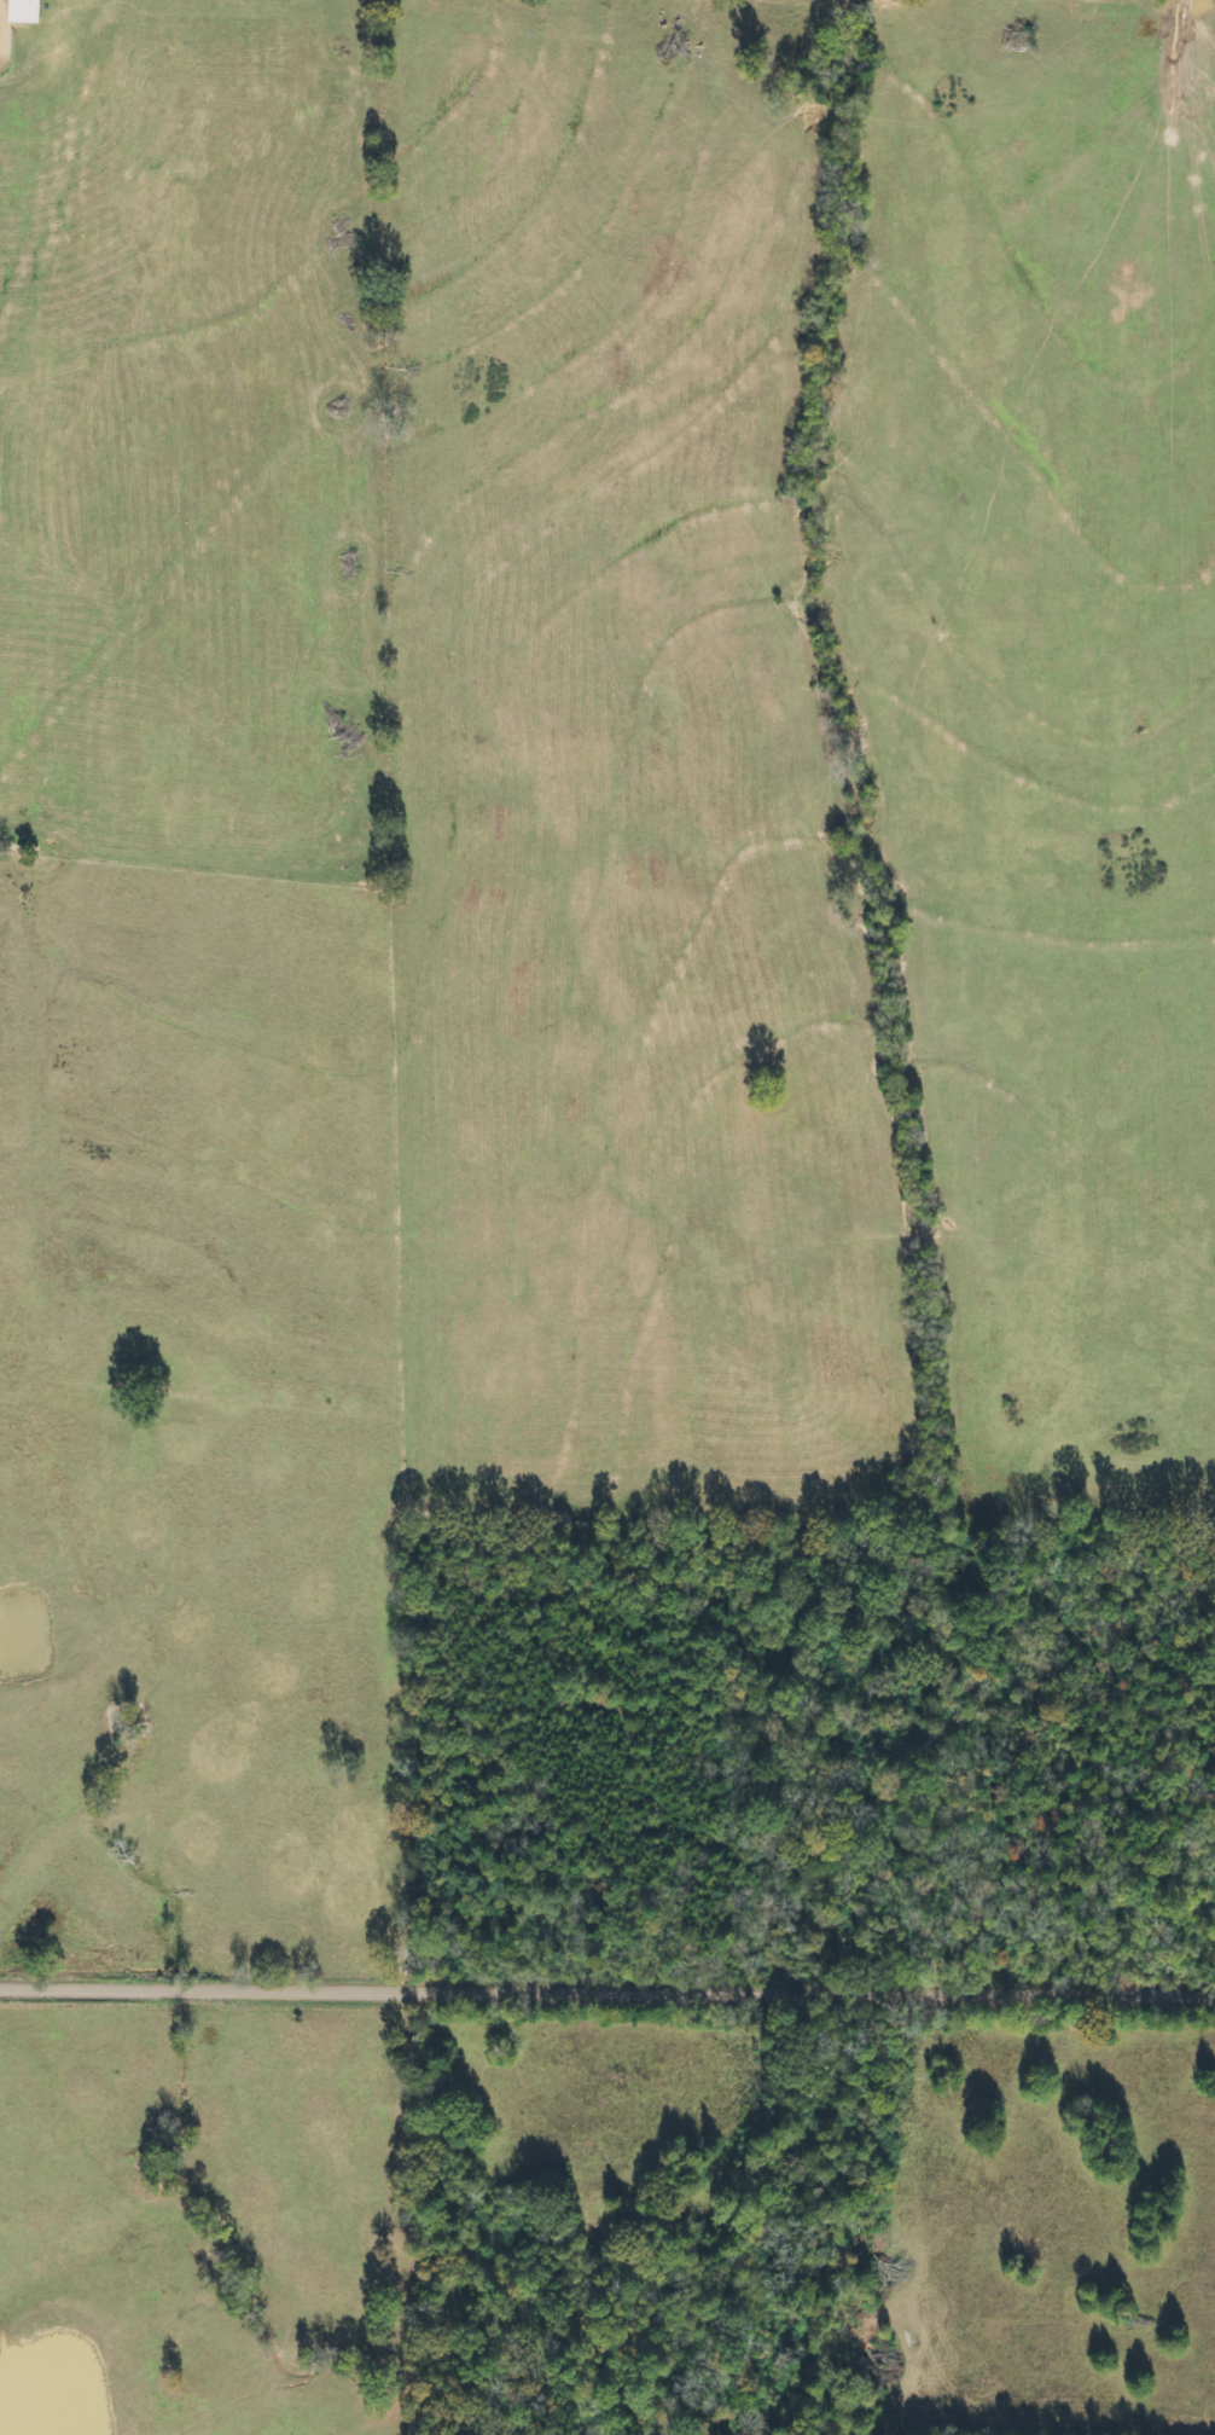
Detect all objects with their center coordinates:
building: (23, 11)
road: (607, 1998)

